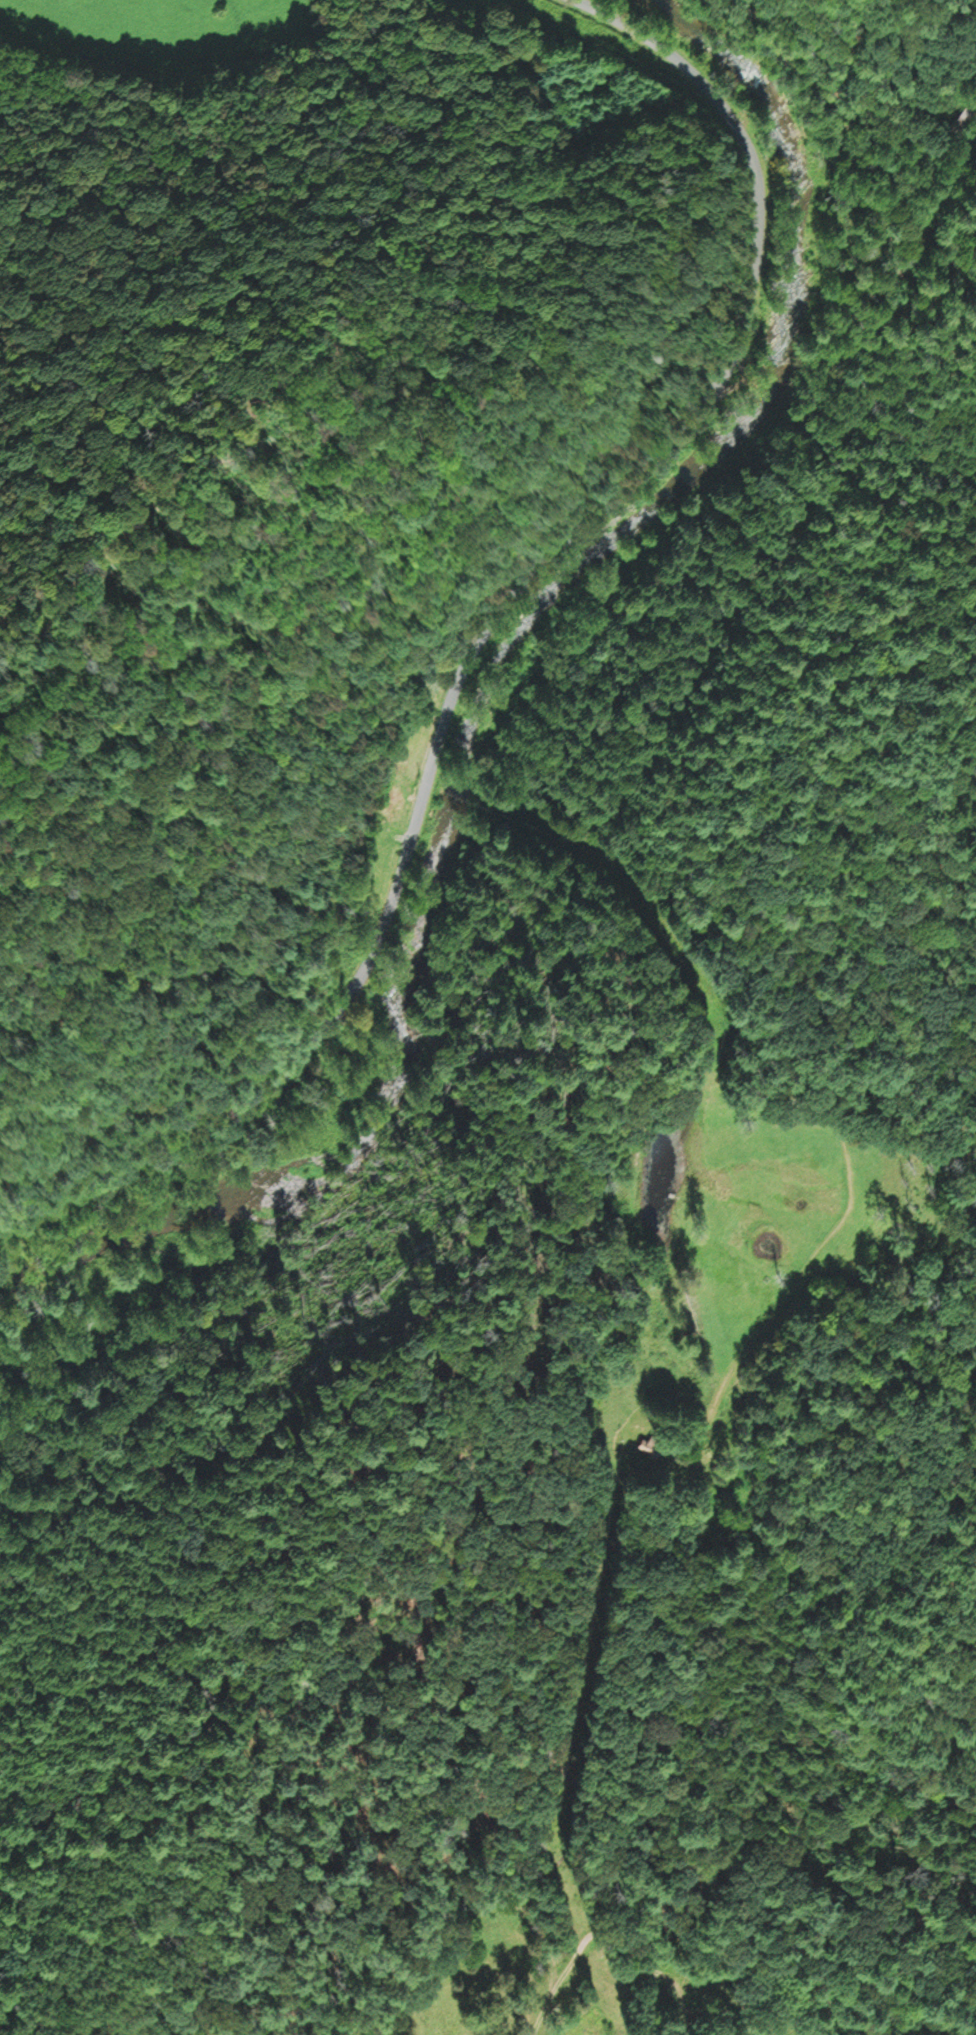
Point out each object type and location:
building: (965, 118)
road: (491, 634)
building: (389, 805)
road: (604, 1936)

